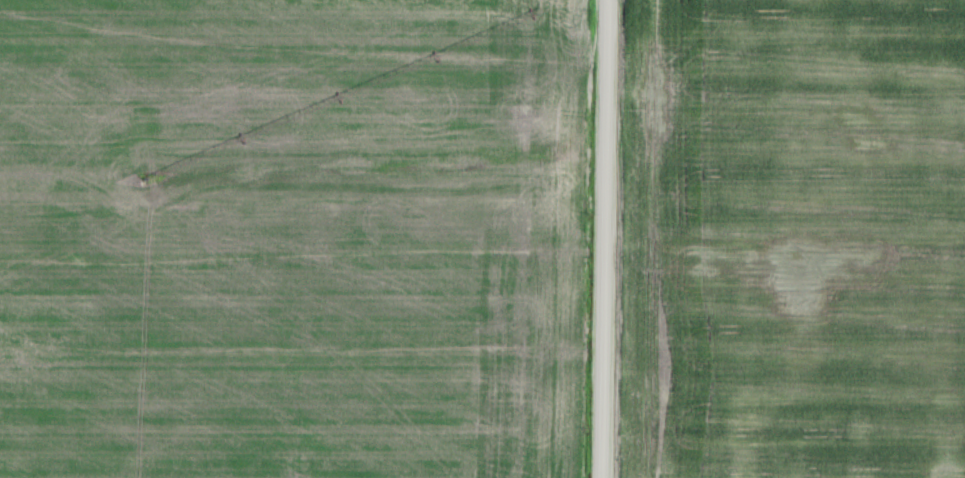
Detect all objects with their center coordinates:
road: (605, 238)

